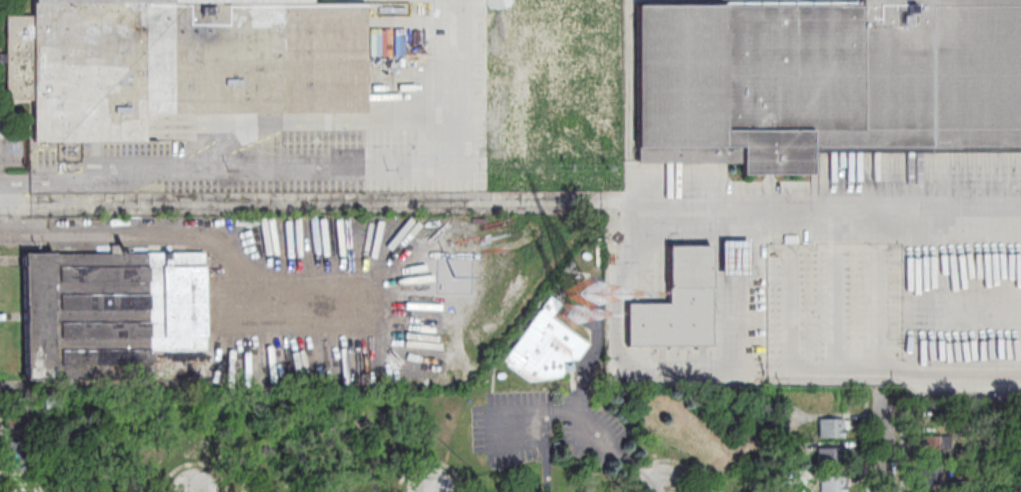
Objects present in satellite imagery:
building: (180, 63)
building: (823, 80)
parking lot: (317, 140)
road: (314, 173)
road: (511, 200)
road: (198, 235)
building: (735, 259)
building: (676, 302)
building: (110, 309)
building: (545, 348)
road: (585, 365)
road: (732, 379)
building: (54, 402)
road: (581, 412)
building: (20, 414)
parking lot: (551, 431)
building: (833, 431)
building: (195, 439)
road: (885, 441)
building: (931, 449)
building: (791, 453)
building: (964, 457)
building: (19, 458)
building: (831, 460)
building: (150, 462)
building: (60, 470)
building: (932, 479)
building: (791, 480)
building: (833, 485)
building: (728, 487)
building: (961, 487)
building: (21, 488)
road: (664, 490)
road: (433, 491)

